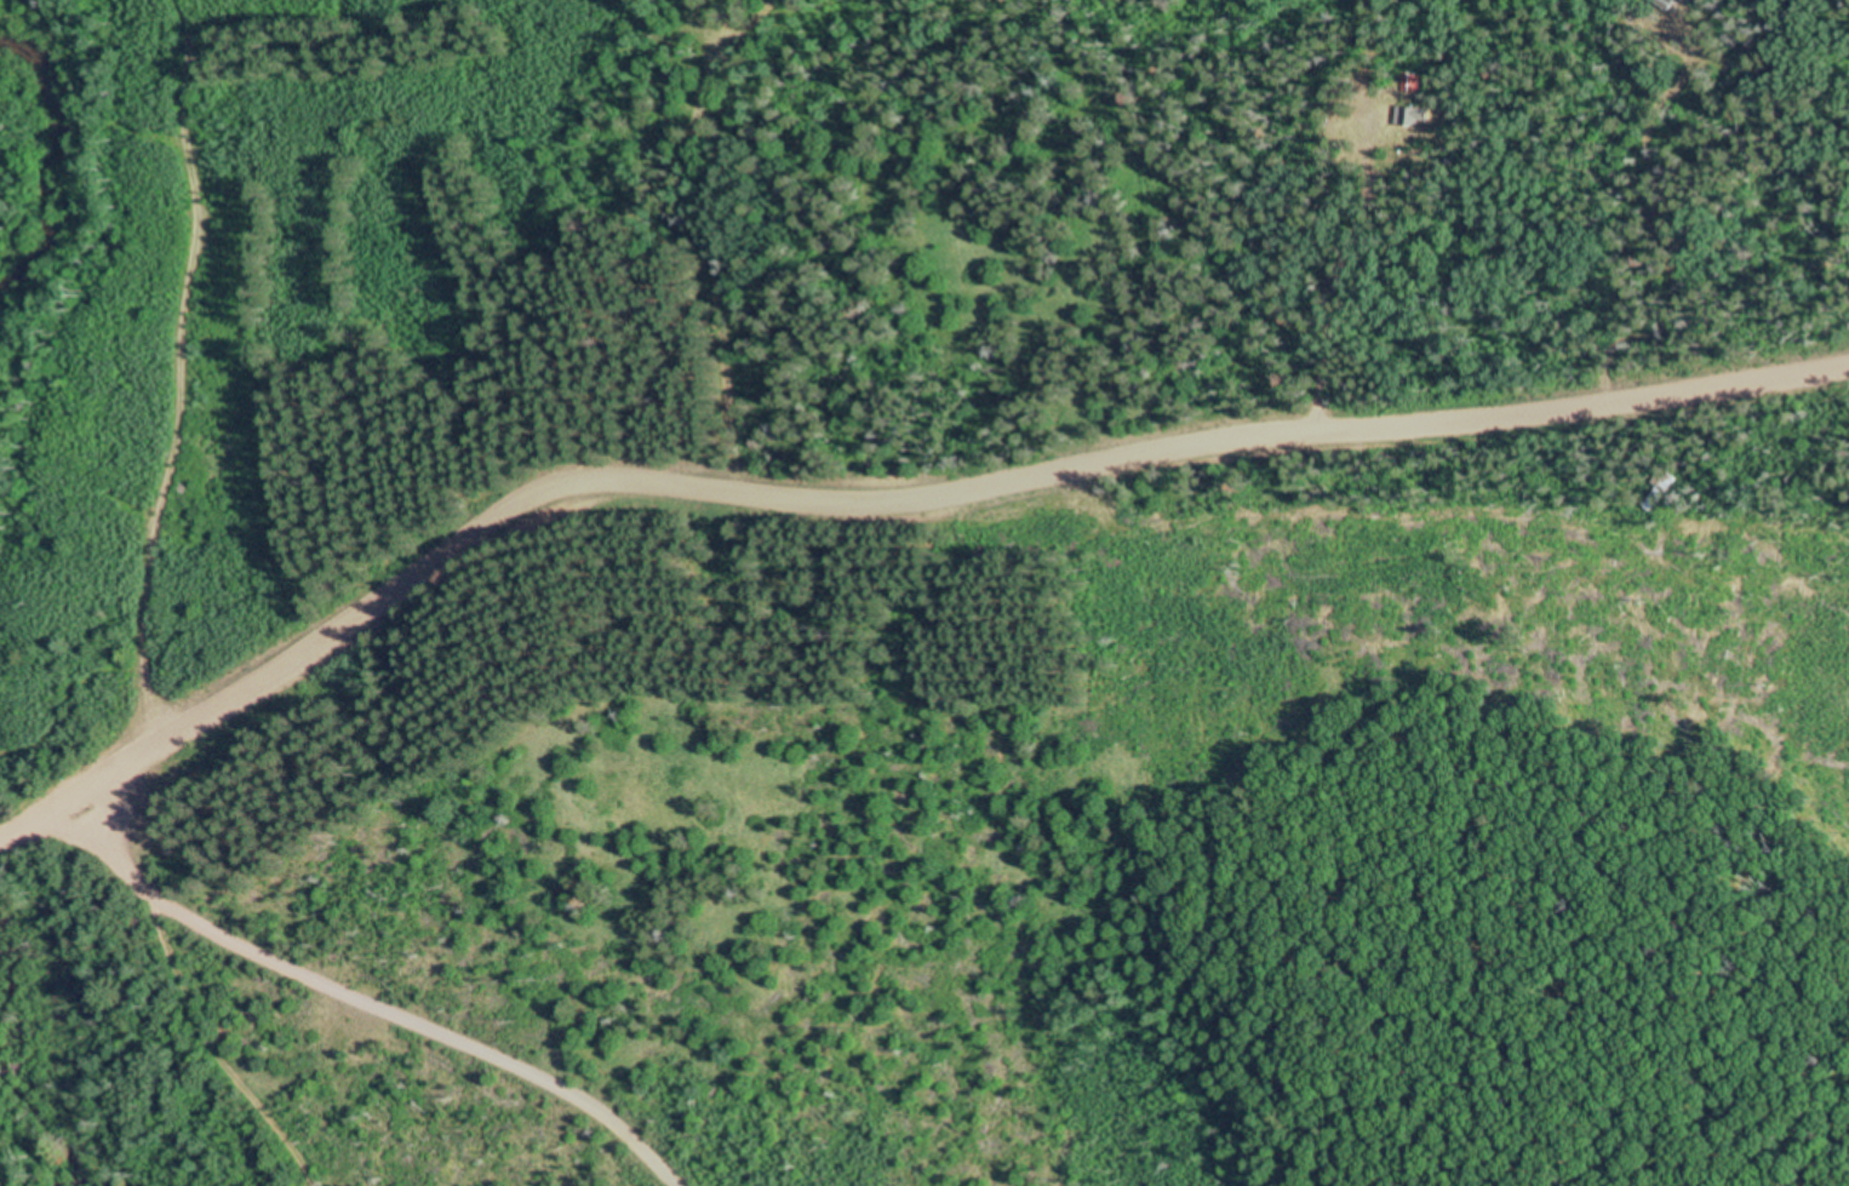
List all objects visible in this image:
building: (1407, 119)
road: (160, 372)
road: (878, 489)
road: (362, 982)

